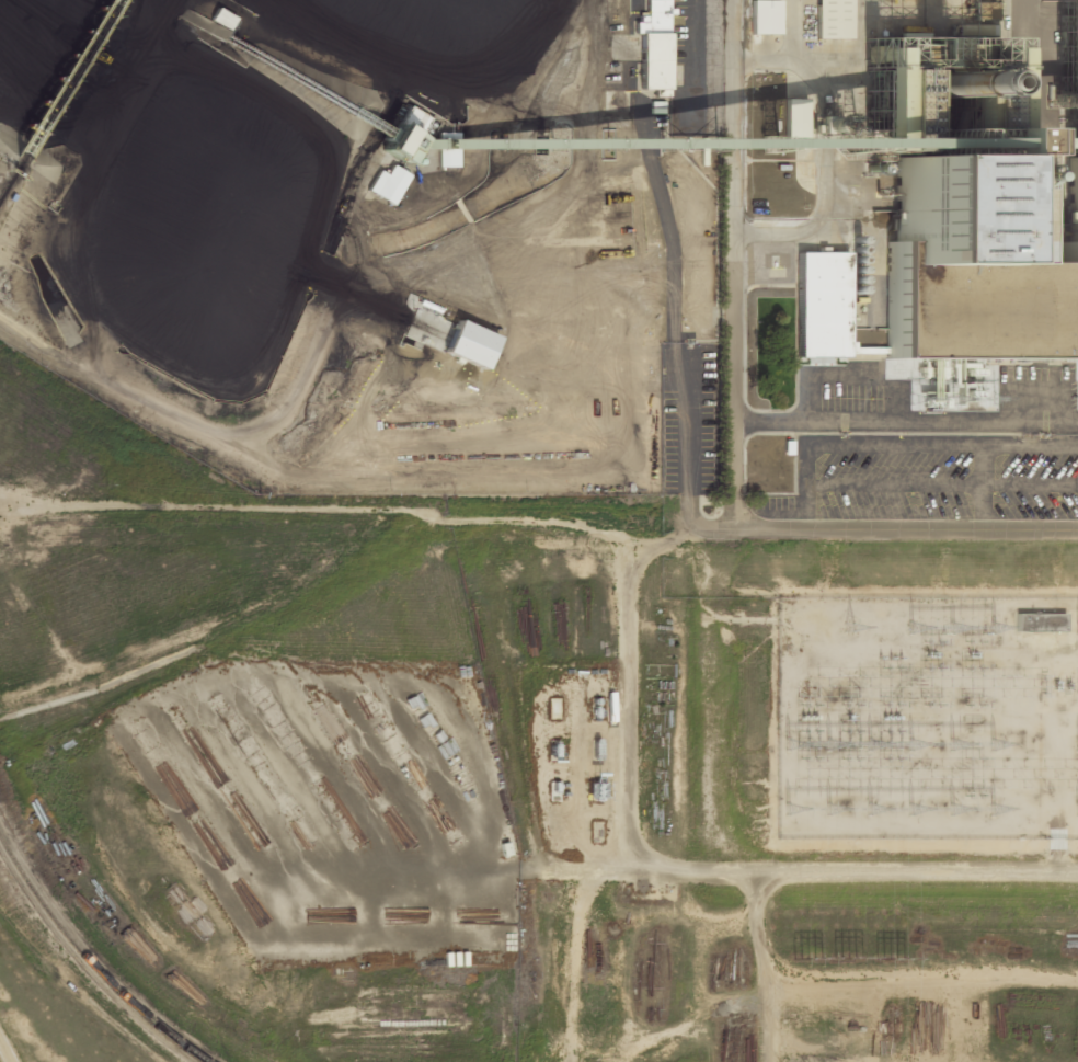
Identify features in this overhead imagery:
building: (764, 16)
building: (221, 18)
building: (832, 19)
building: (653, 46)
chimney: (916, 84)
railway: (61, 105)
building: (388, 184)
building: (819, 305)
building: (466, 344)
power plant: (539, 530)
road: (888, 532)
building: (1040, 621)
power substation: (926, 718)
railway: (85, 958)
power tower: (805, 959)
power tower: (846, 960)
power tower: (886, 960)

